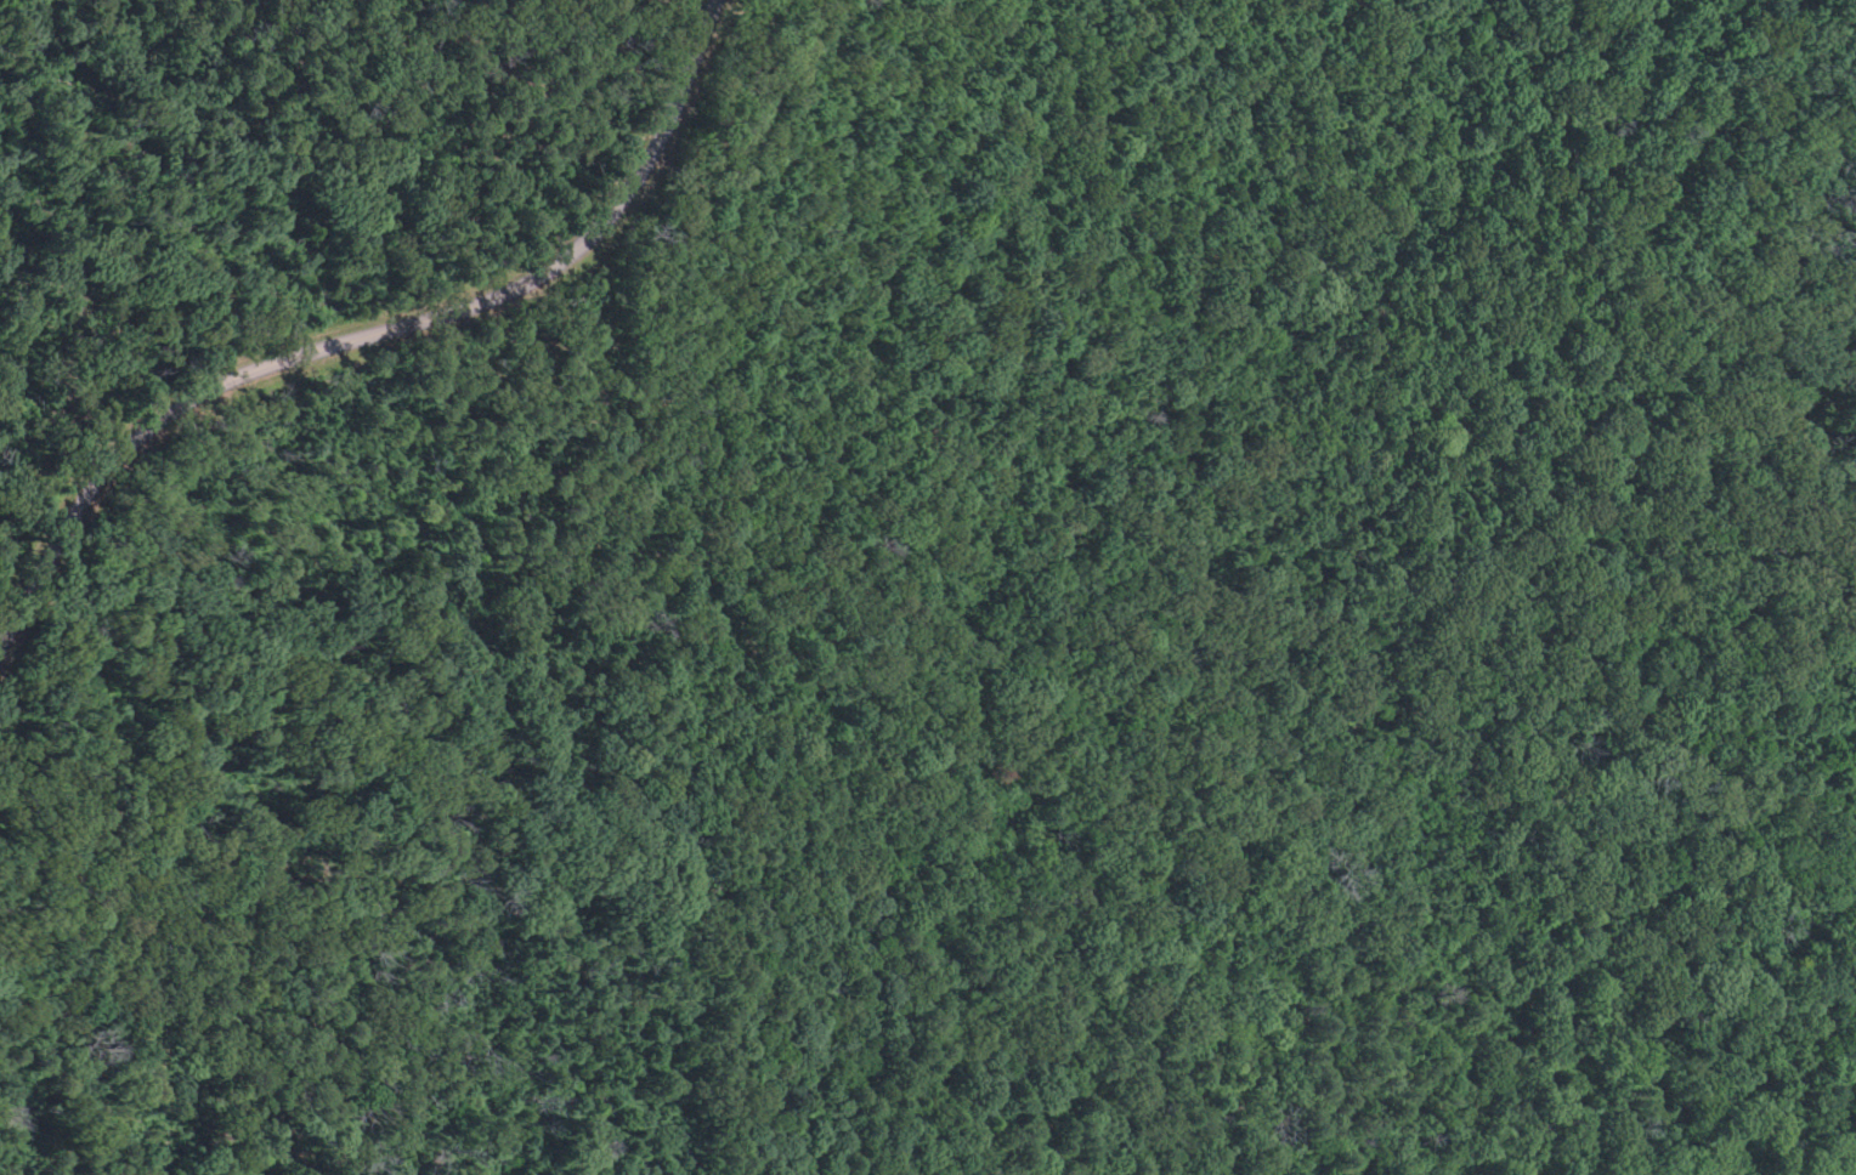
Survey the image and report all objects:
road: (370, 330)
road: (1623, 1014)

